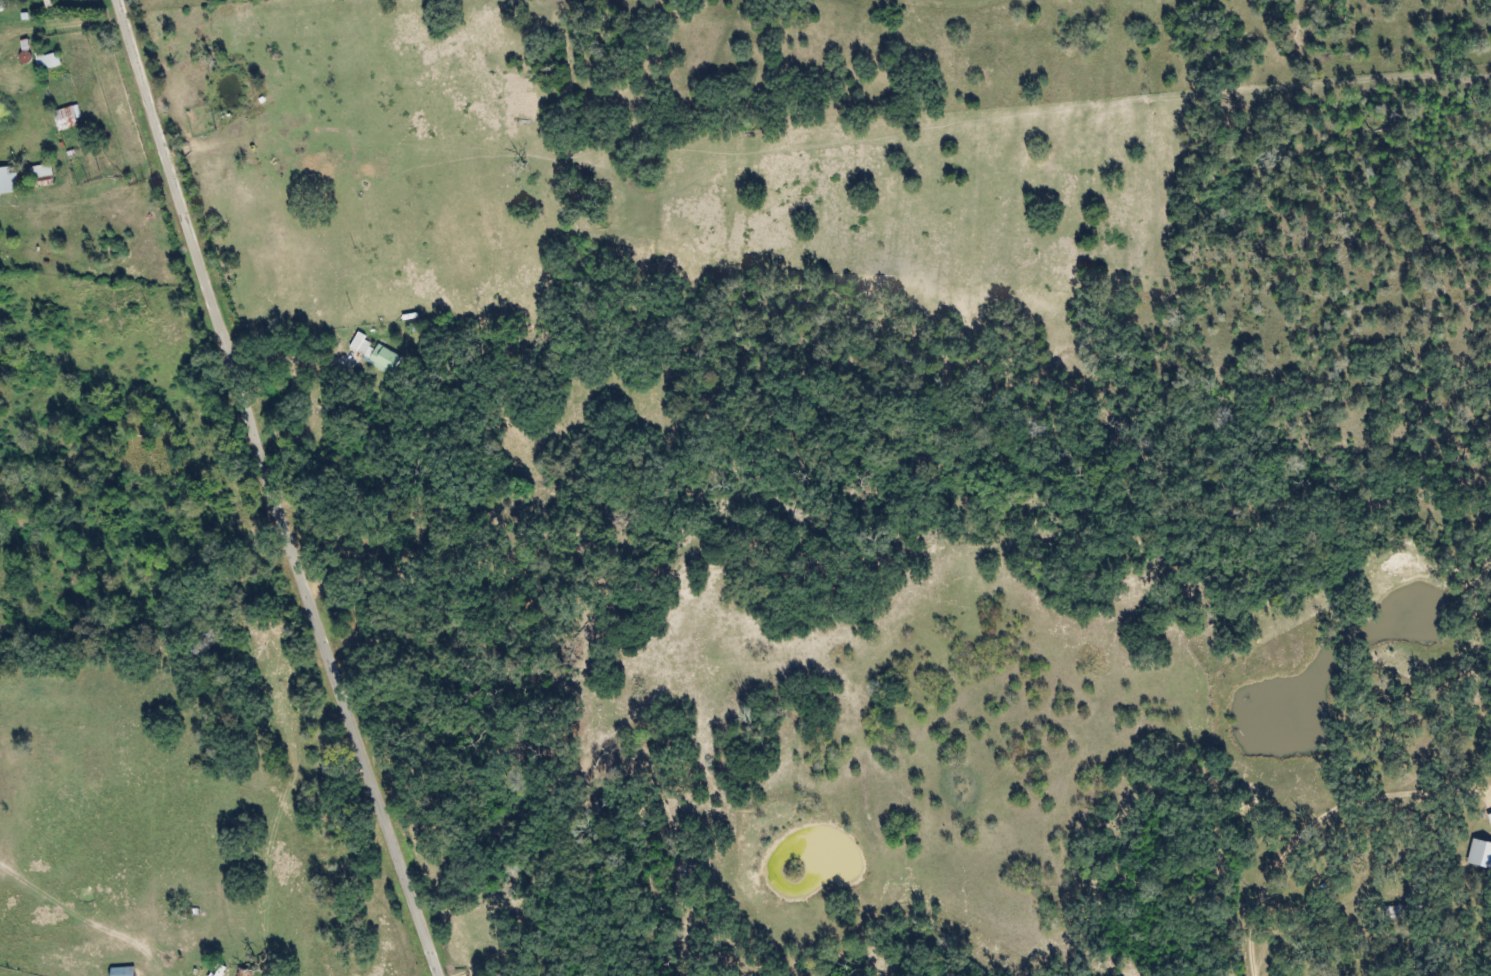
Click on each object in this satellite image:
building: (45, 4)
building: (44, 60)
building: (64, 117)
building: (37, 170)
building: (7, 179)
building: (371, 353)
road: (277, 490)
park: (586, 521)
building: (1488, 818)
building: (1478, 853)
building: (1392, 911)
building: (119, 971)

